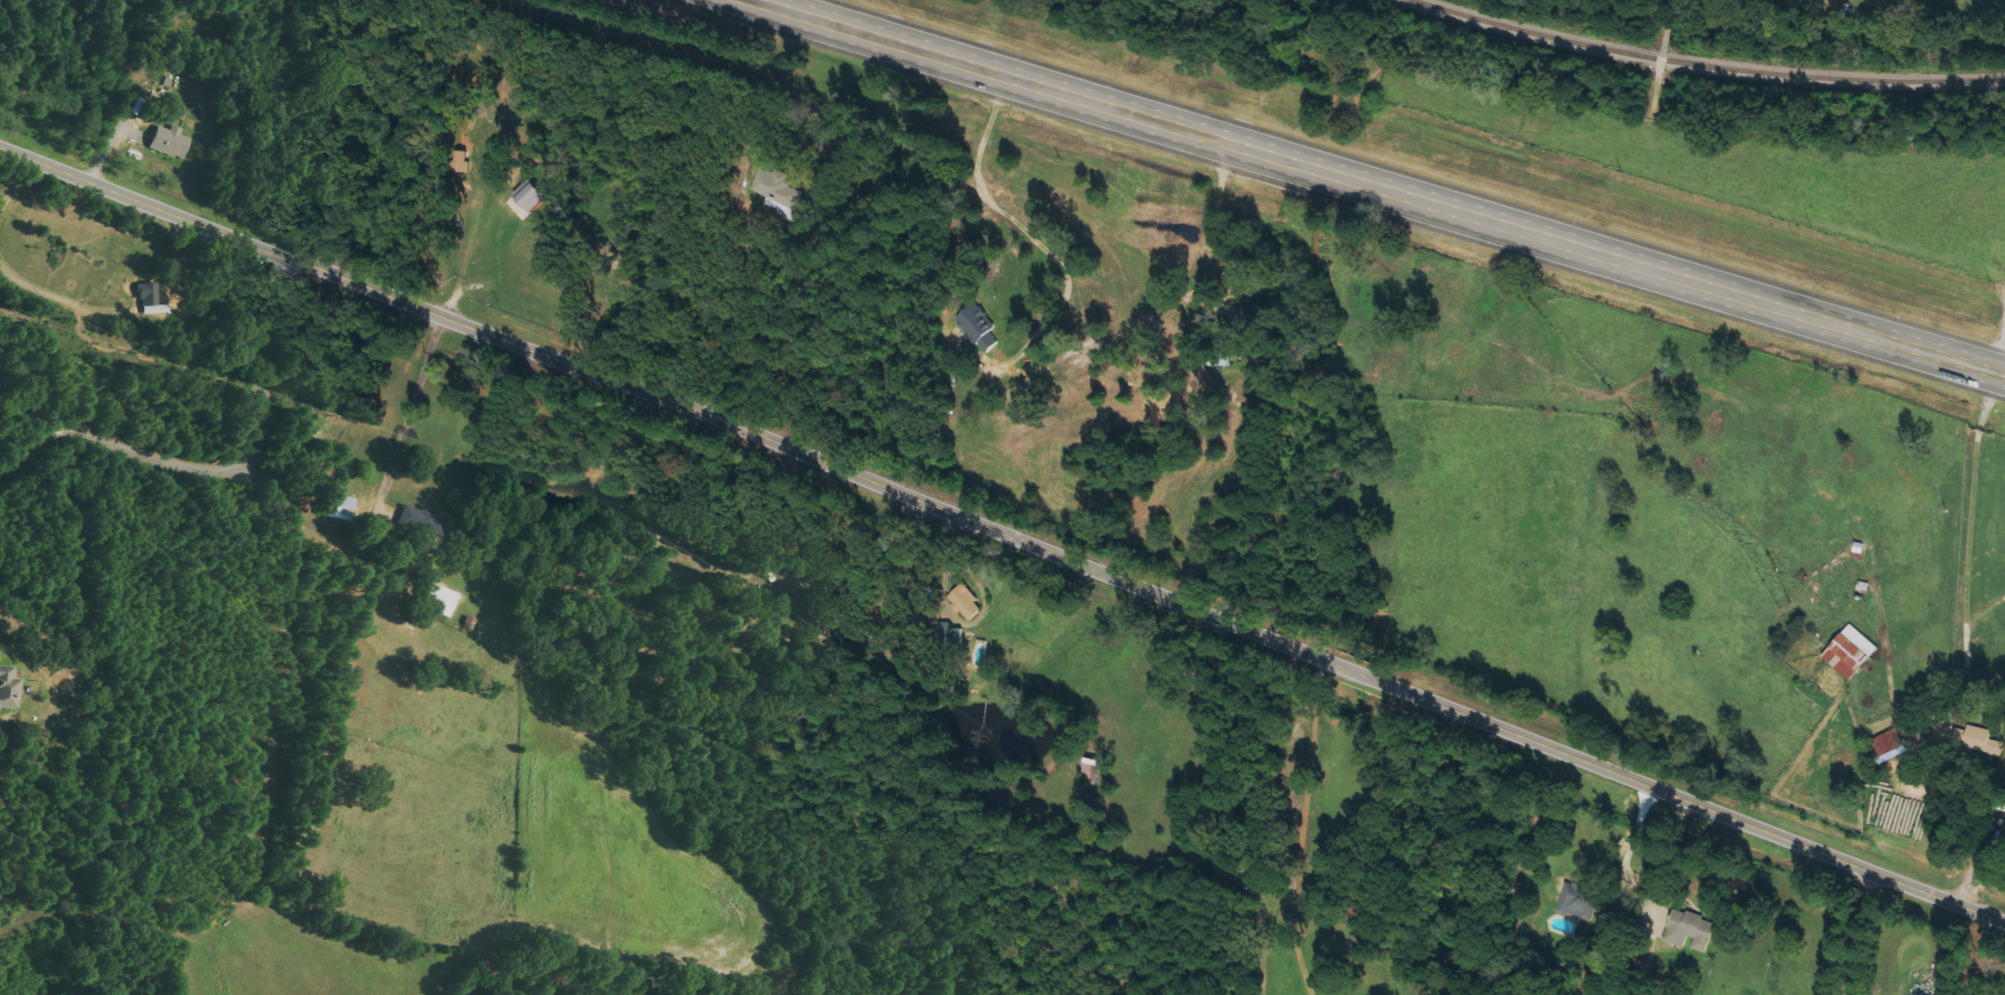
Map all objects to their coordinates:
railway: (1710, 67)
building: (172, 141)
building: (772, 187)
road: (1376, 187)
building: (534, 194)
building: (150, 294)
building: (980, 328)
road: (221, 468)
building: (344, 506)
road: (1003, 534)
building: (796, 582)
building: (441, 600)
building: (963, 601)
building: (1847, 652)
building: (9, 687)
building: (1974, 740)
building: (1884, 743)
road: (1300, 827)
building: (1574, 901)
building: (1687, 930)
road: (1856, 935)

